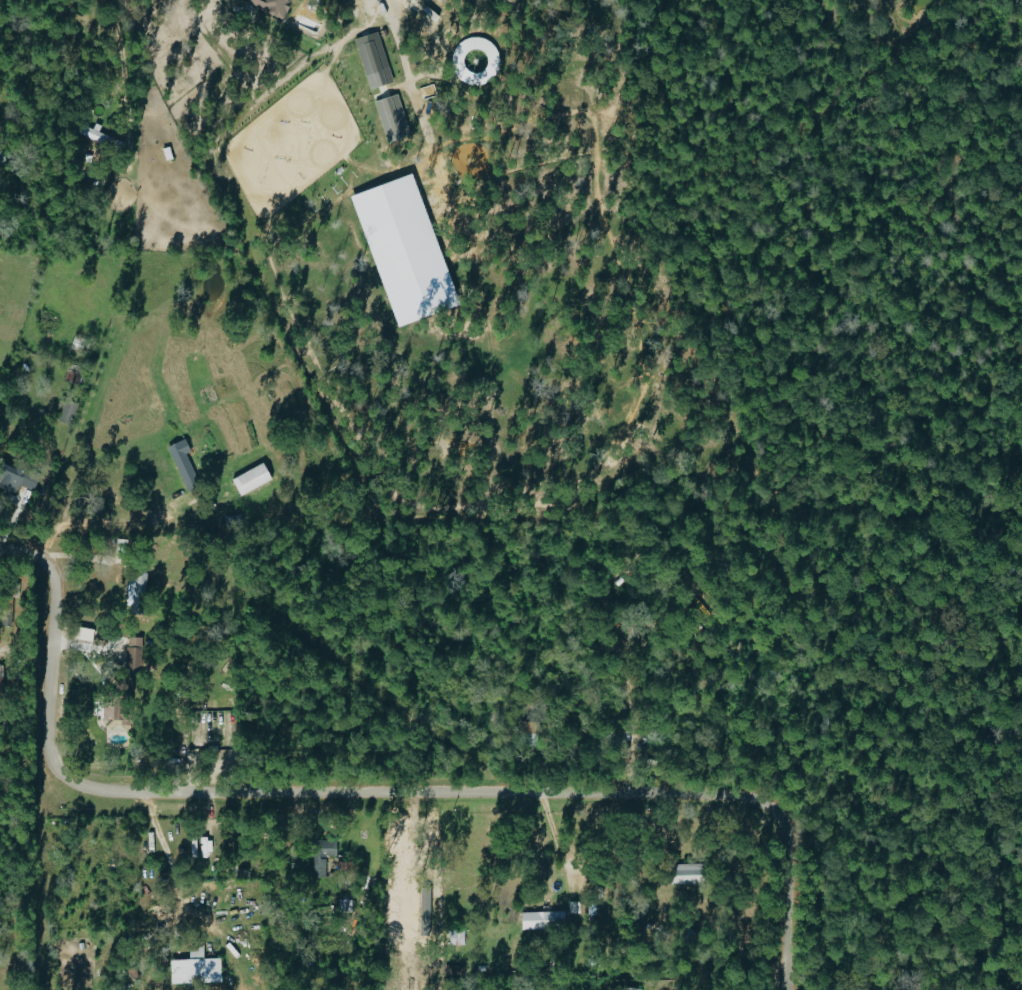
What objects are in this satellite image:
building: (269, 6)
road: (119, 58)
building: (371, 60)
road: (403, 64)
building: (390, 118)
building: (99, 137)
building: (401, 250)
building: (65, 411)
building: (179, 458)
building: (16, 478)
building: (249, 479)
road: (99, 522)
road: (28, 553)
building: (133, 589)
building: (133, 652)
road: (699, 682)
building: (0, 687)
building: (111, 716)
road: (401, 794)
building: (203, 847)
building: (320, 855)
road: (306, 863)
building: (684, 874)
road: (173, 876)
building: (542, 920)
building: (456, 937)
building: (193, 967)
building: (631, 988)

